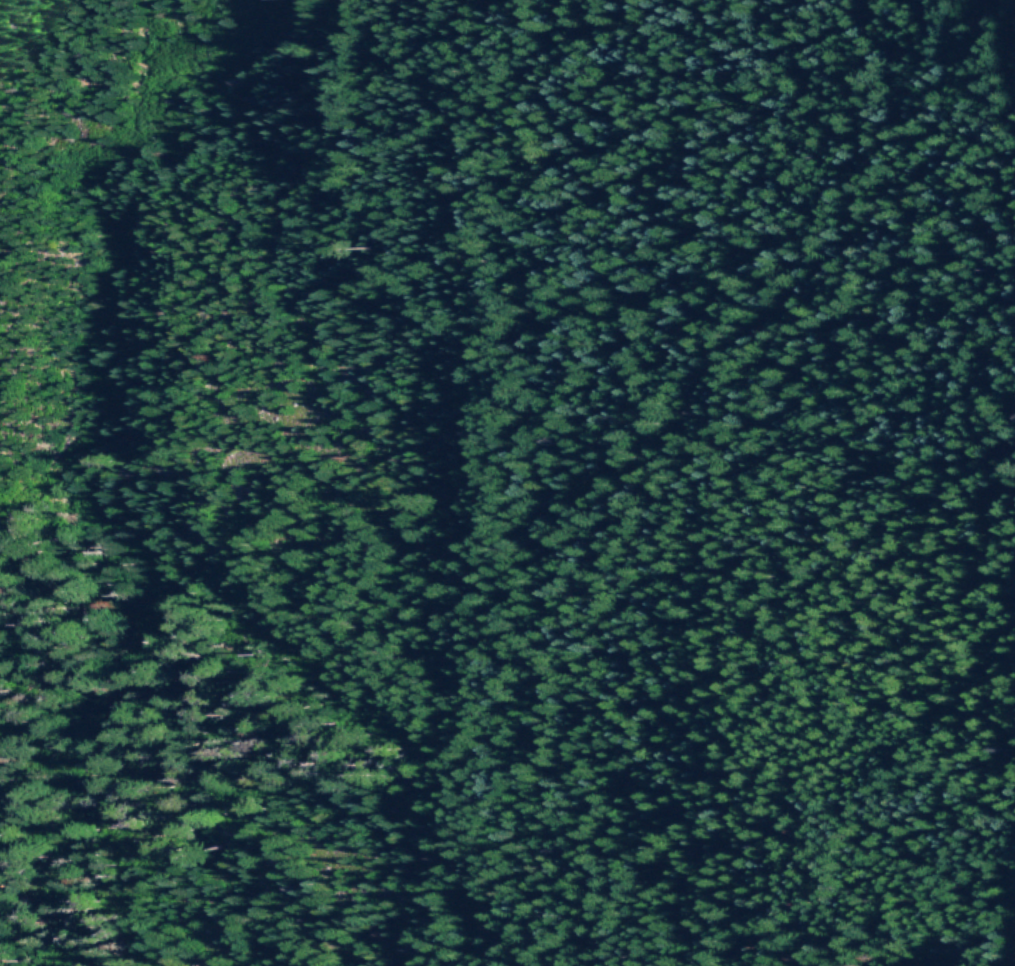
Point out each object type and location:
road: (1013, 963)

